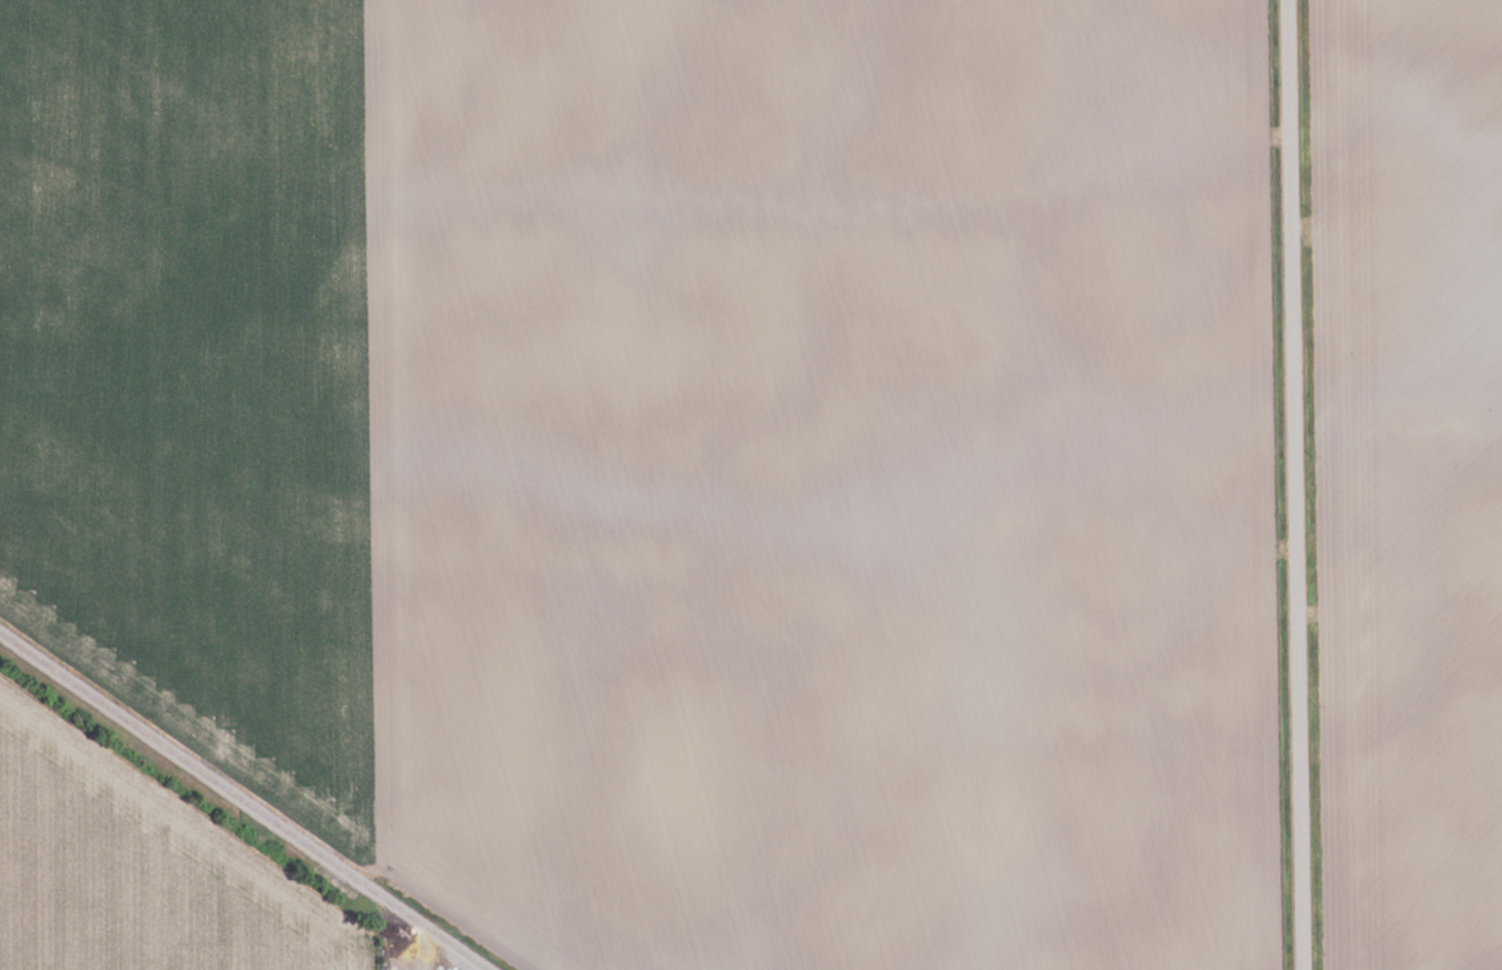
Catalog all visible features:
road: (1298, 484)
railway: (243, 801)

